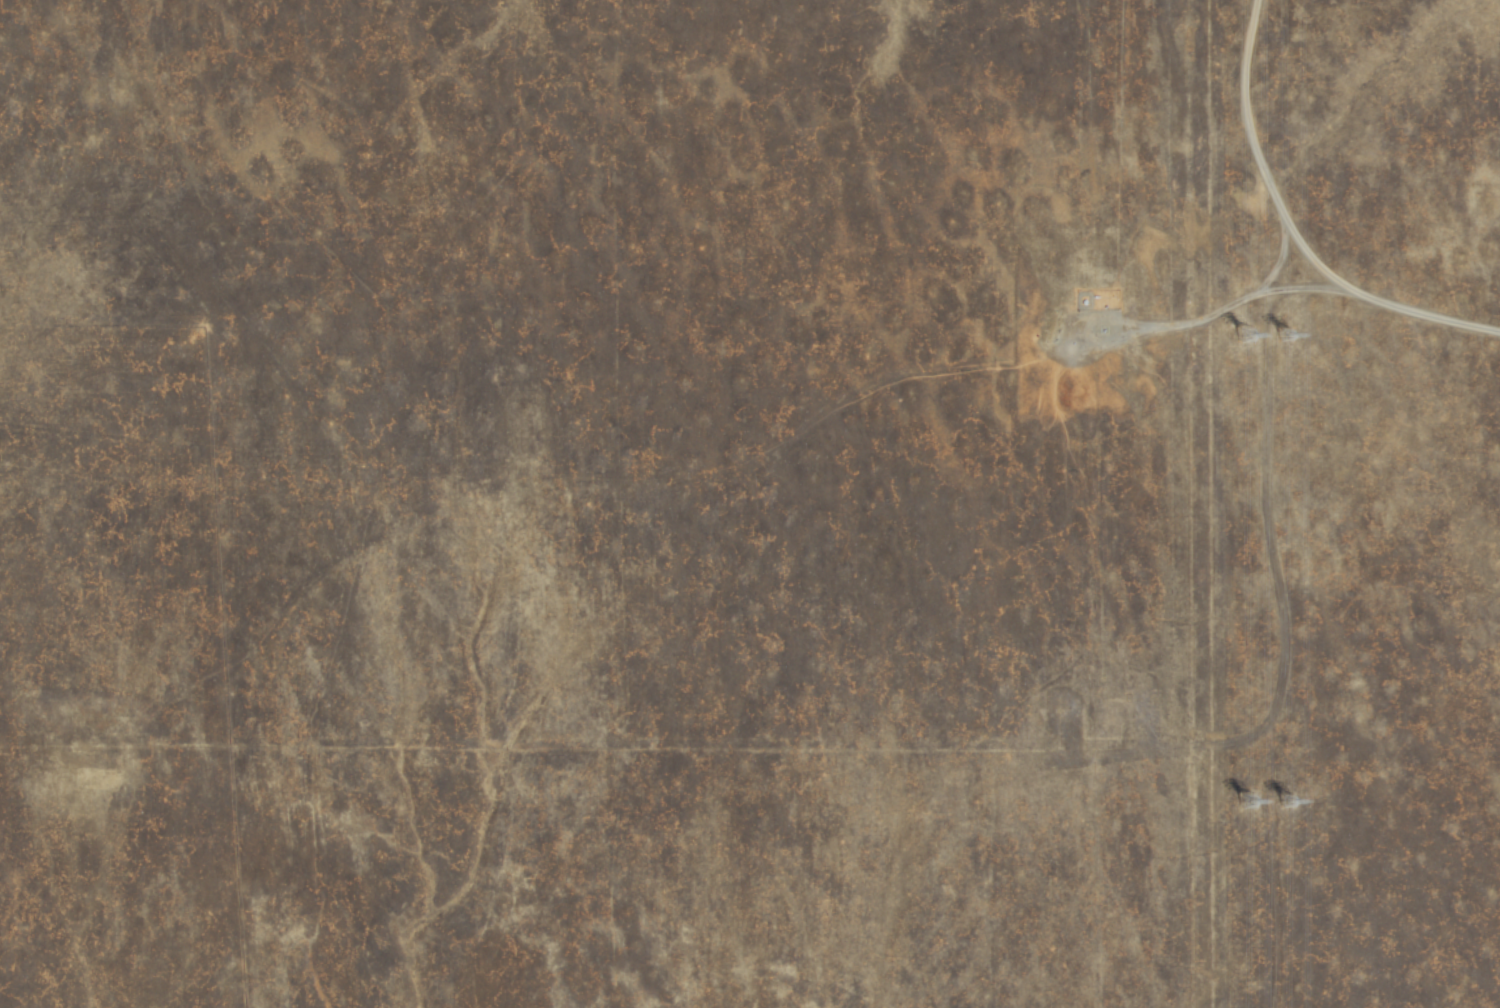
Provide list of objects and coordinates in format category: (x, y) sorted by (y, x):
power tower: (1242, 334)
power tower: (1281, 336)
power tower: (1244, 801)
power tower: (1283, 802)

